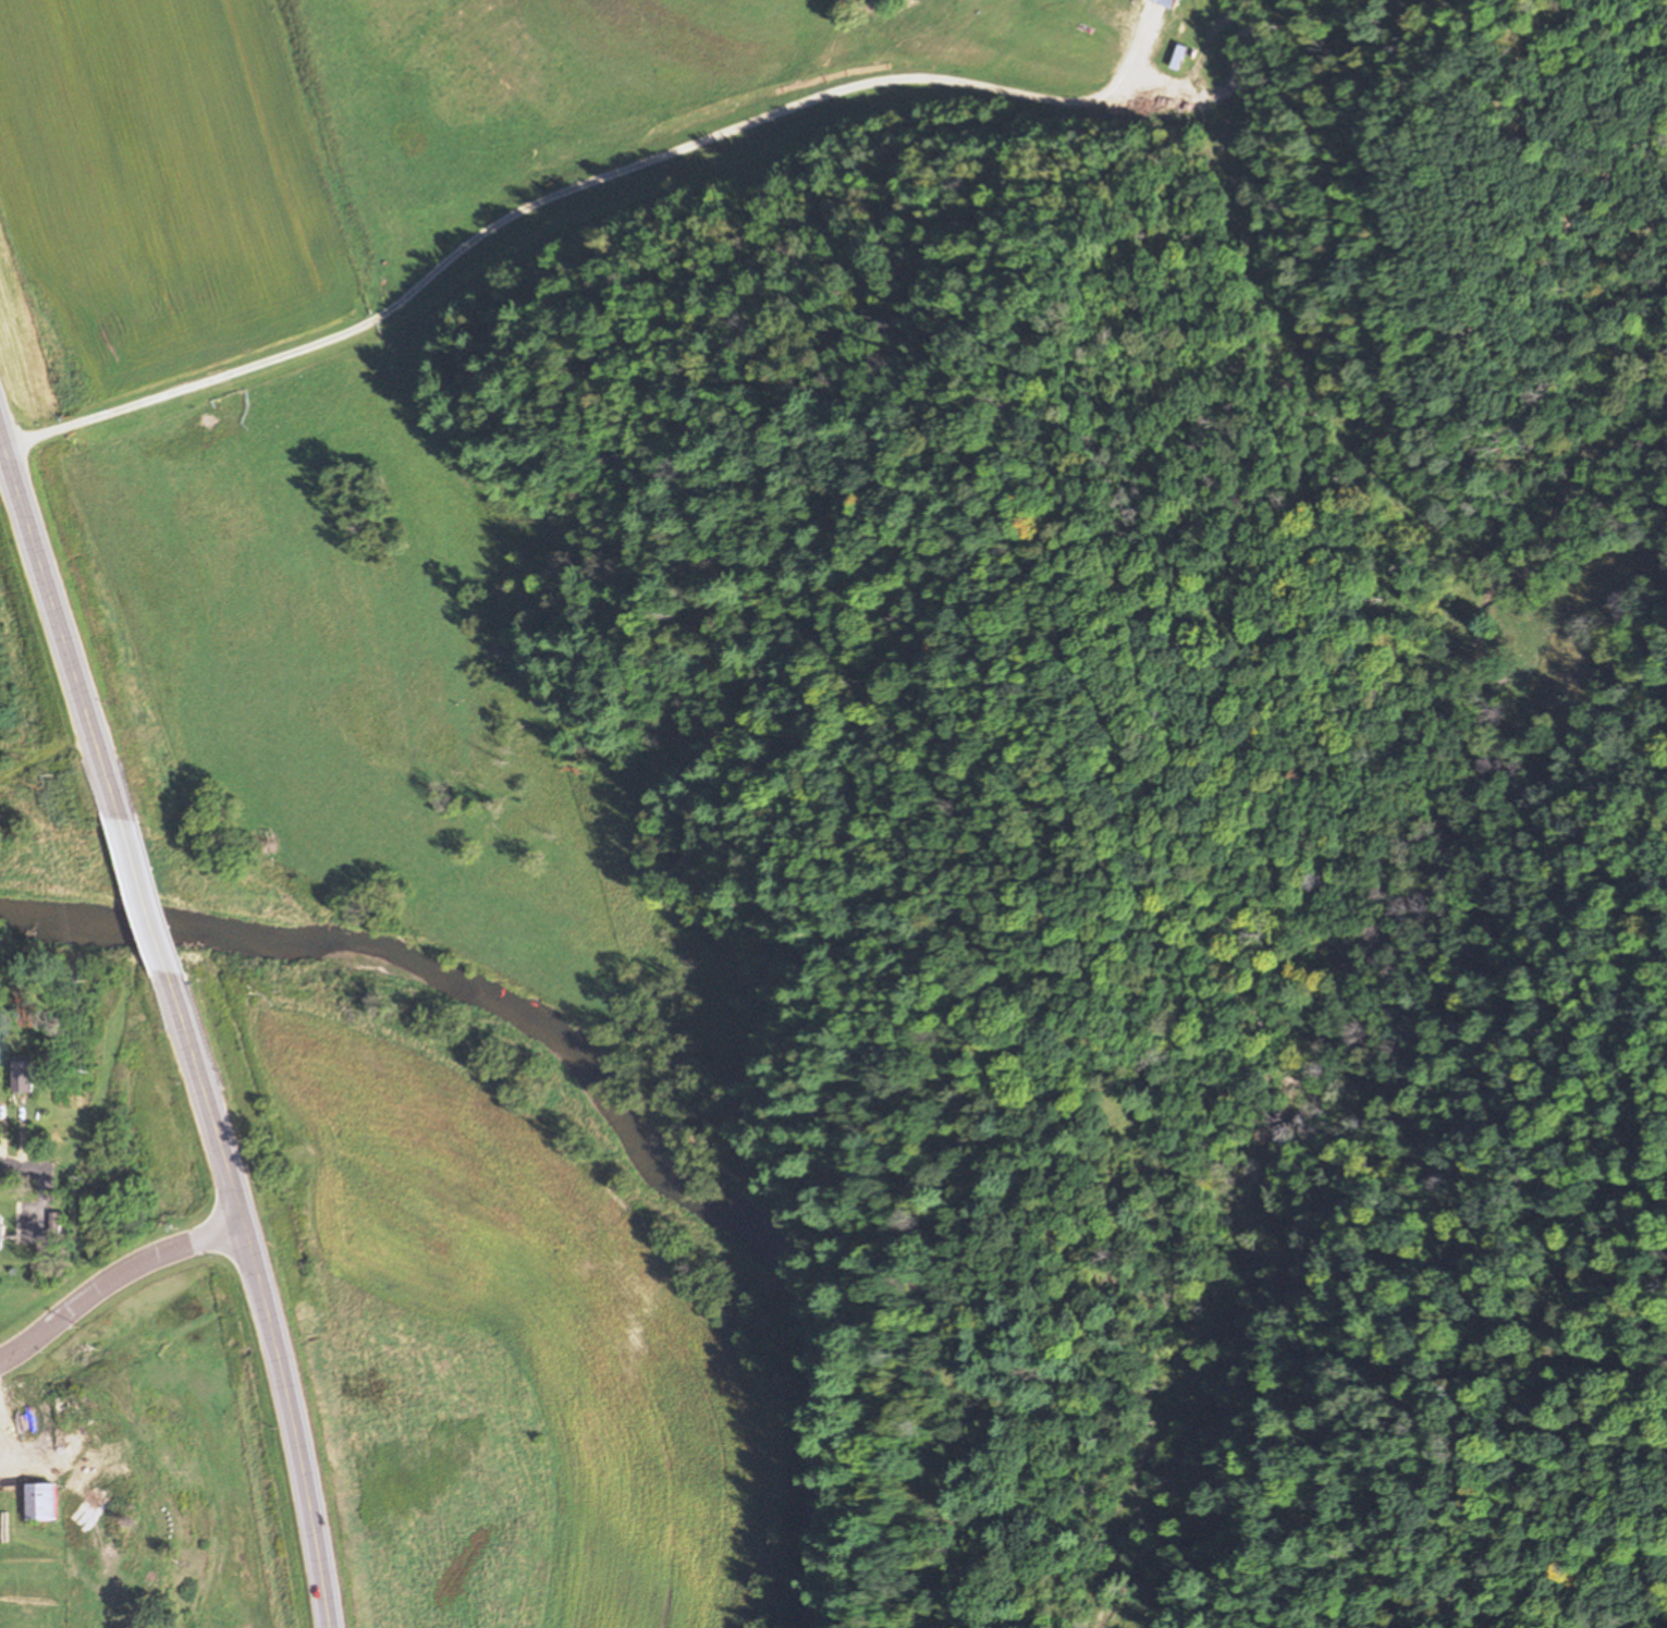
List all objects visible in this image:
building: (1165, 3)
road: (541, 200)
road: (62, 622)
road: (147, 898)
building: (28, 1076)
river: (589, 1086)
road: (208, 1098)
road: (39, 1170)
building: (1, 1236)
road: (115, 1285)
road: (296, 1422)
building: (41, 1434)
building: (44, 1502)

